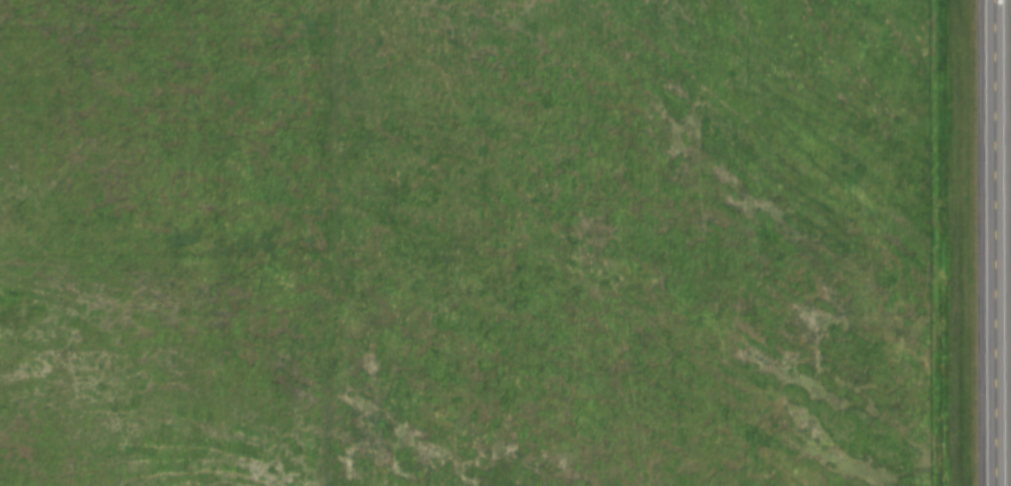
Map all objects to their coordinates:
road: (1010, 45)

